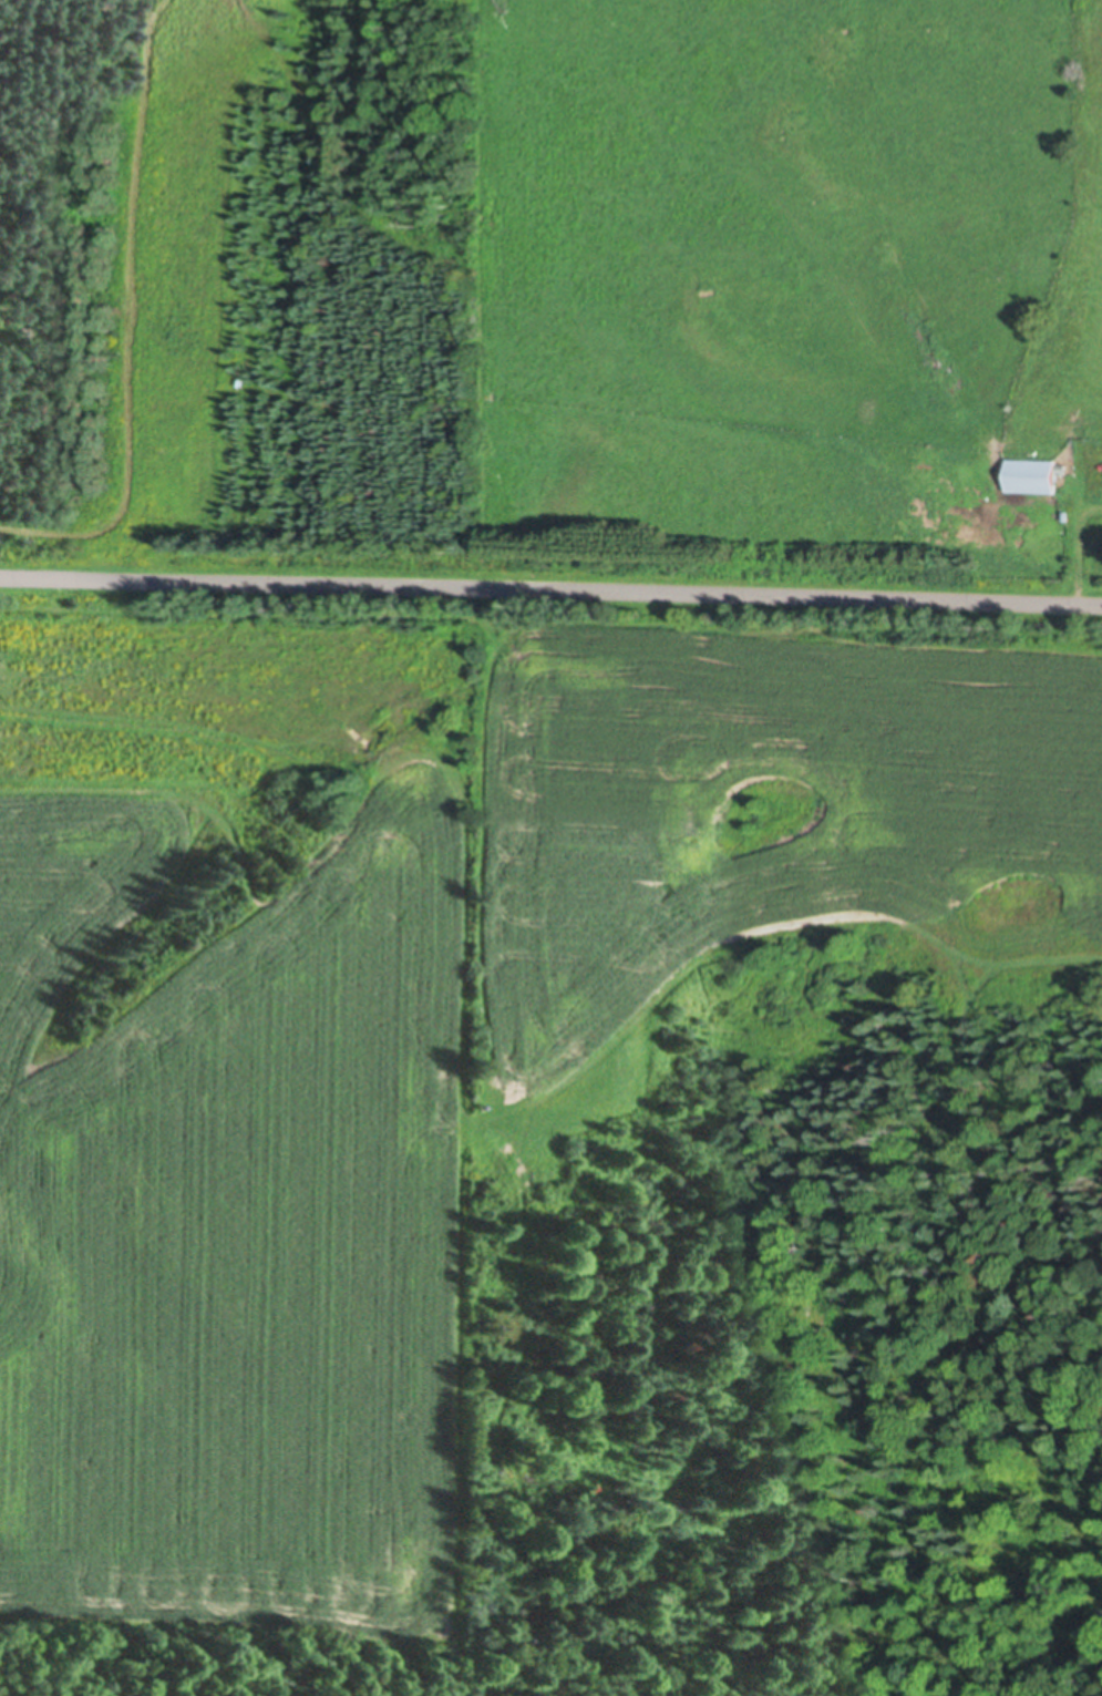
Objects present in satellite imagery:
building: (1033, 473)
road: (550, 589)

